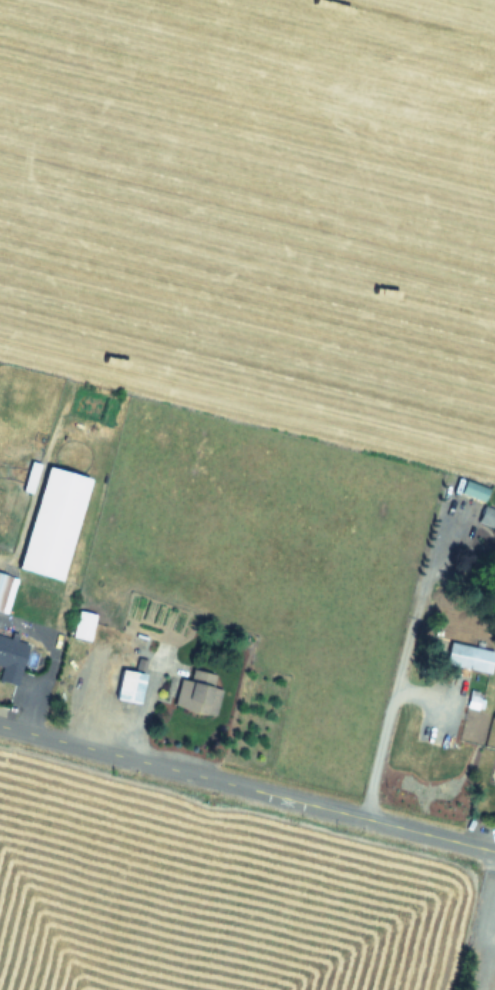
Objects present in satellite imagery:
crop: (253, 380)
building: (31, 477)
building: (487, 519)
building: (54, 522)
building: (6, 591)
building: (84, 625)
building: (470, 657)
building: (11, 659)
road: (399, 677)
building: (131, 685)
building: (198, 693)
road: (247, 787)
crop: (220, 893)
road: (486, 942)

